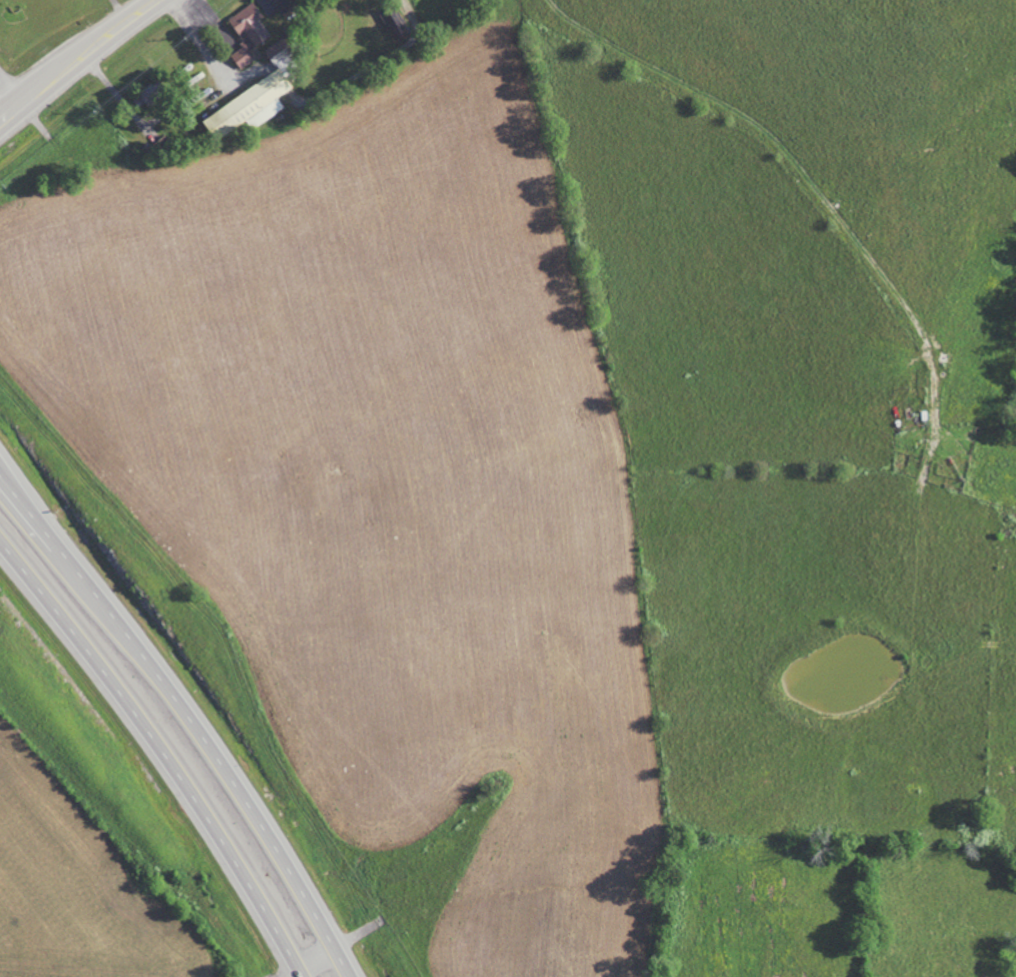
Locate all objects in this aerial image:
building: (282, 4)
building: (396, 23)
building: (248, 32)
road: (200, 42)
building: (278, 55)
road: (76, 58)
road: (11, 86)
building: (248, 106)
road: (190, 713)
road: (163, 749)
road: (333, 949)

